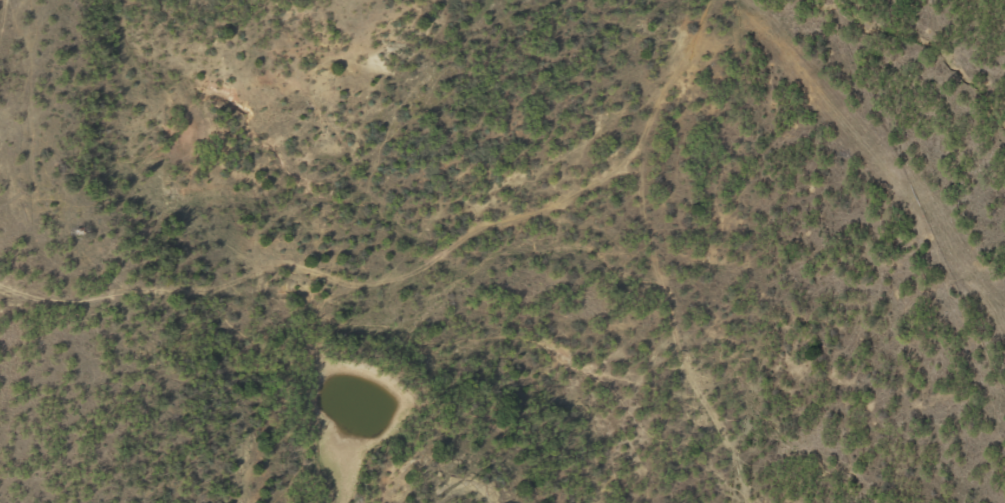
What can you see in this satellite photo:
road: (38, 70)
road: (79, 182)

